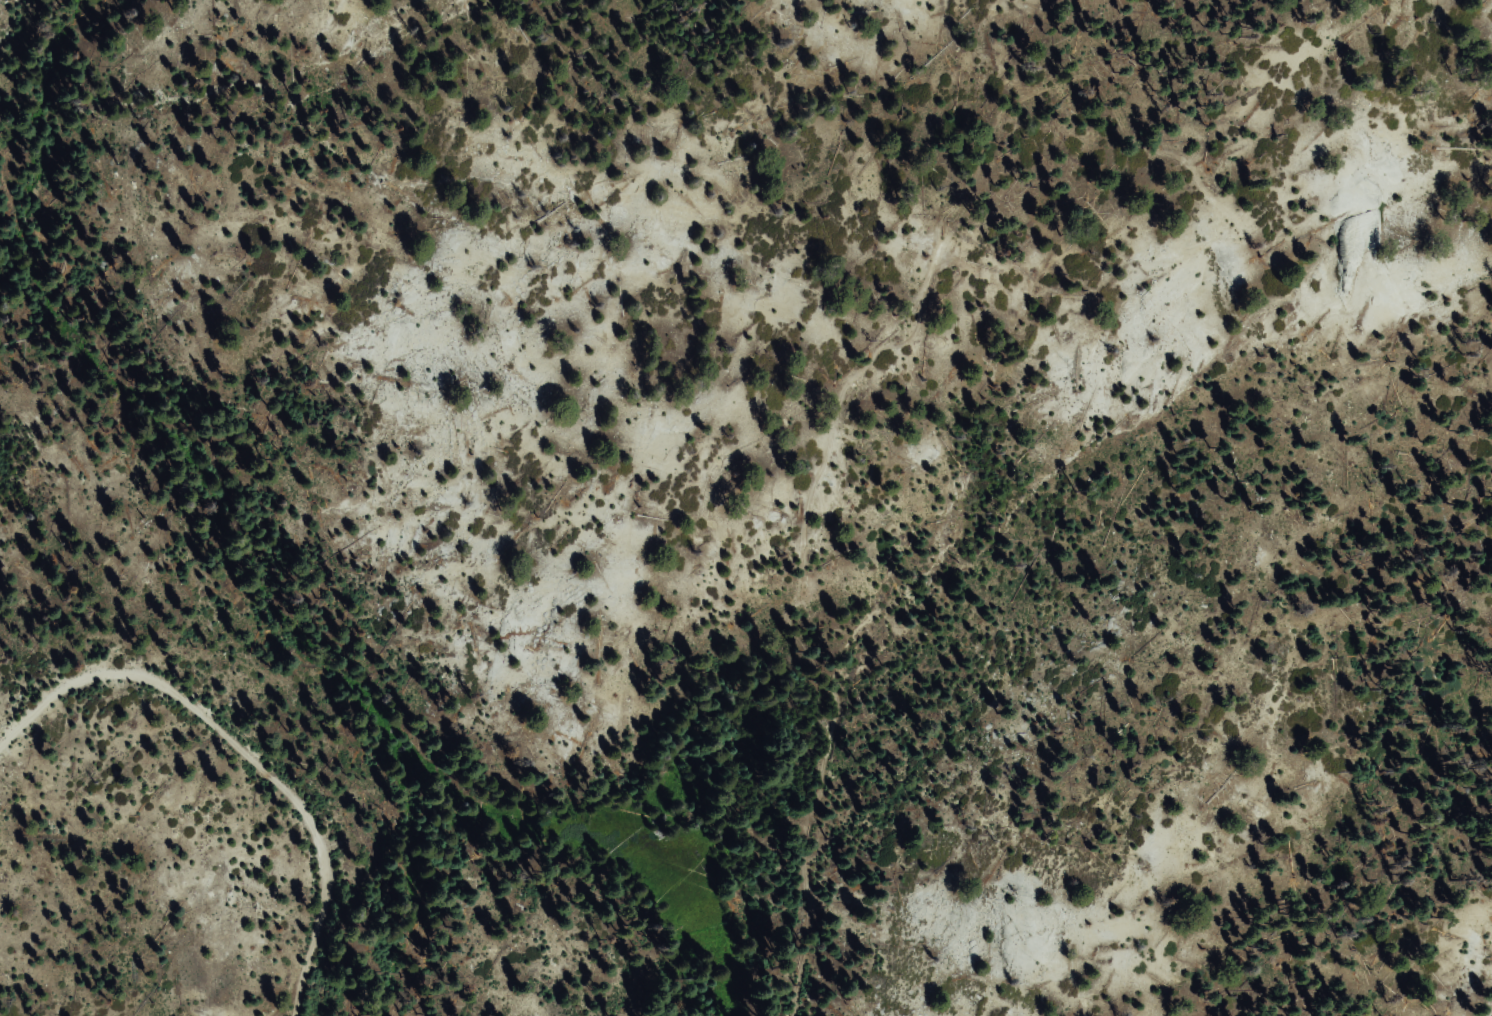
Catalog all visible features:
road: (254, 745)
road: (815, 844)

